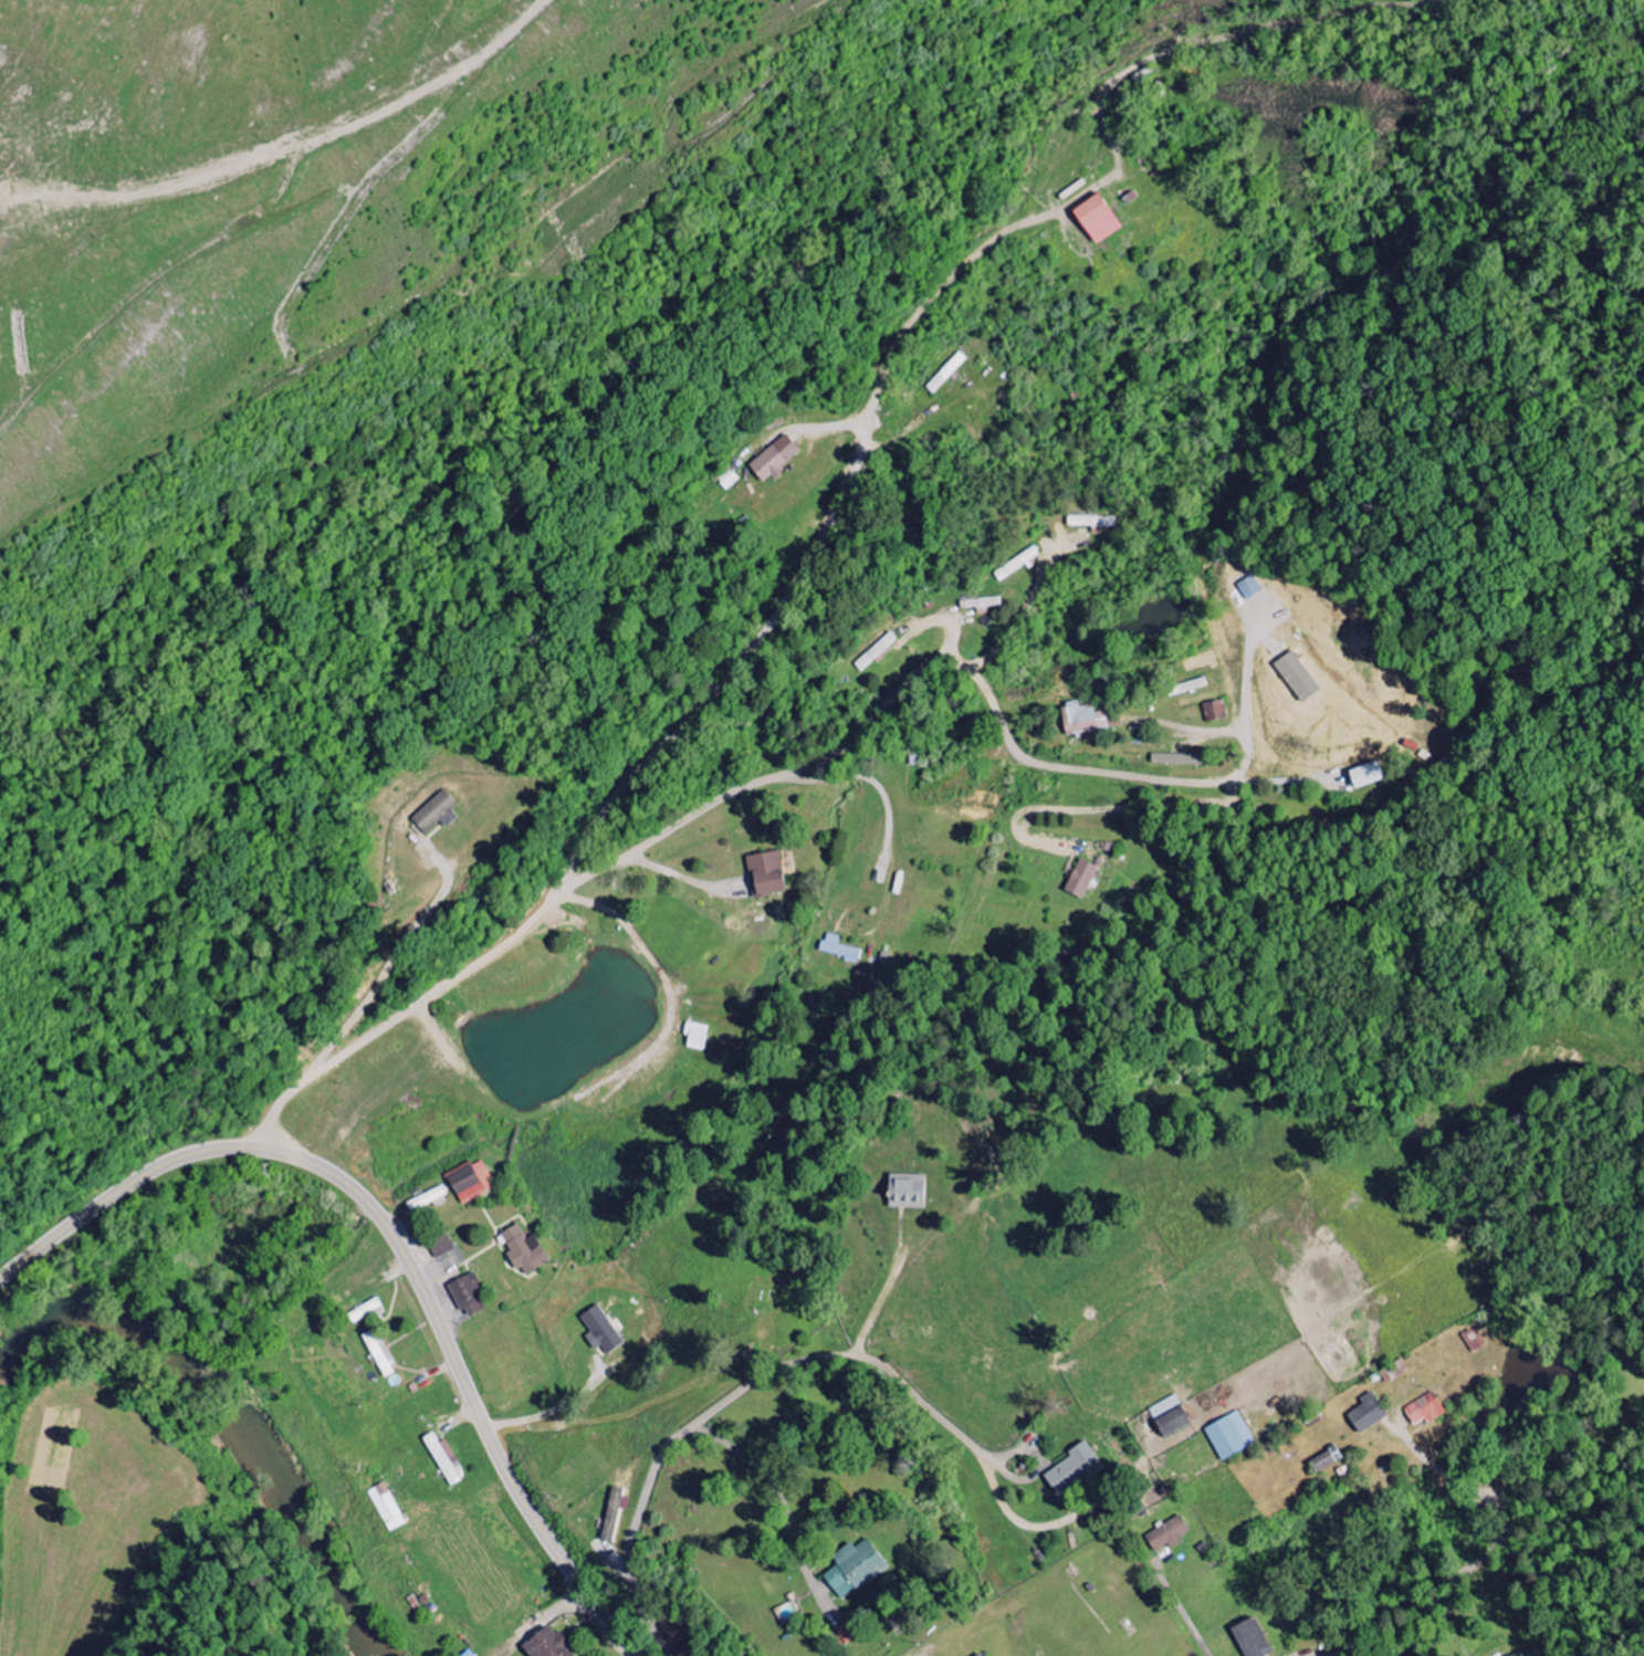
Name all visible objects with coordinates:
quarry: (609, 169)
building: (1098, 220)
building: (947, 374)
building: (775, 459)
building: (1092, 522)
building: (1252, 587)
building: (982, 604)
building: (877, 651)
building: (1299, 675)
building: (1216, 710)
building: (1083, 719)
building: (1179, 759)
building: (1368, 775)
road: (736, 790)
building: (437, 811)
building: (767, 873)
building: (1082, 879)
building: (840, 948)
building: (697, 1036)
building: (472, 1182)
building: (908, 1191)
building: (441, 1245)
road: (399, 1246)
building: (525, 1250)
building: (469, 1295)
building: (366, 1310)
building: (601, 1331)
building: (380, 1353)
road: (737, 1394)
building: (1427, 1409)
building: (1369, 1413)
building: (1171, 1416)
road: (599, 1418)
building: (1231, 1436)
building: (446, 1459)
building: (1327, 1459)
building: (1075, 1470)
road: (1452, 1478)
building: (614, 1514)
building: (1167, 1534)
building: (856, 1569)
road: (1428, 1599)
building: (1253, 1638)
building: (548, 1644)
building: (470, 1654)
building: (980, 1655)
building: (1529, 1655)

